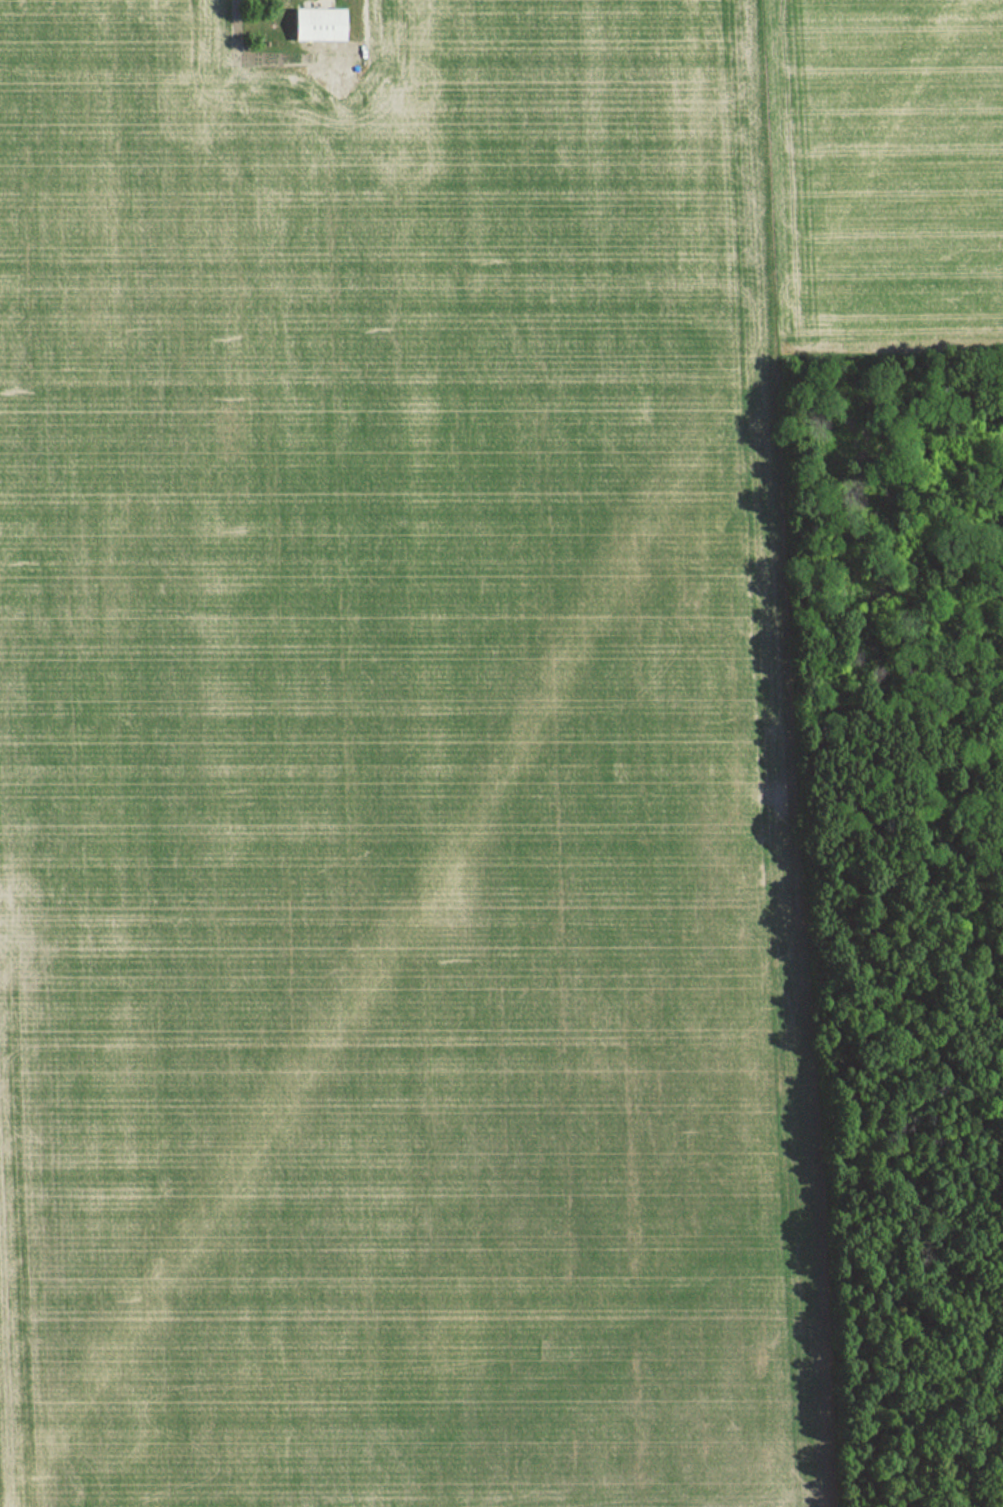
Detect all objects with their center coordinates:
building: (313, 25)
crop: (883, 173)
crop: (395, 776)

